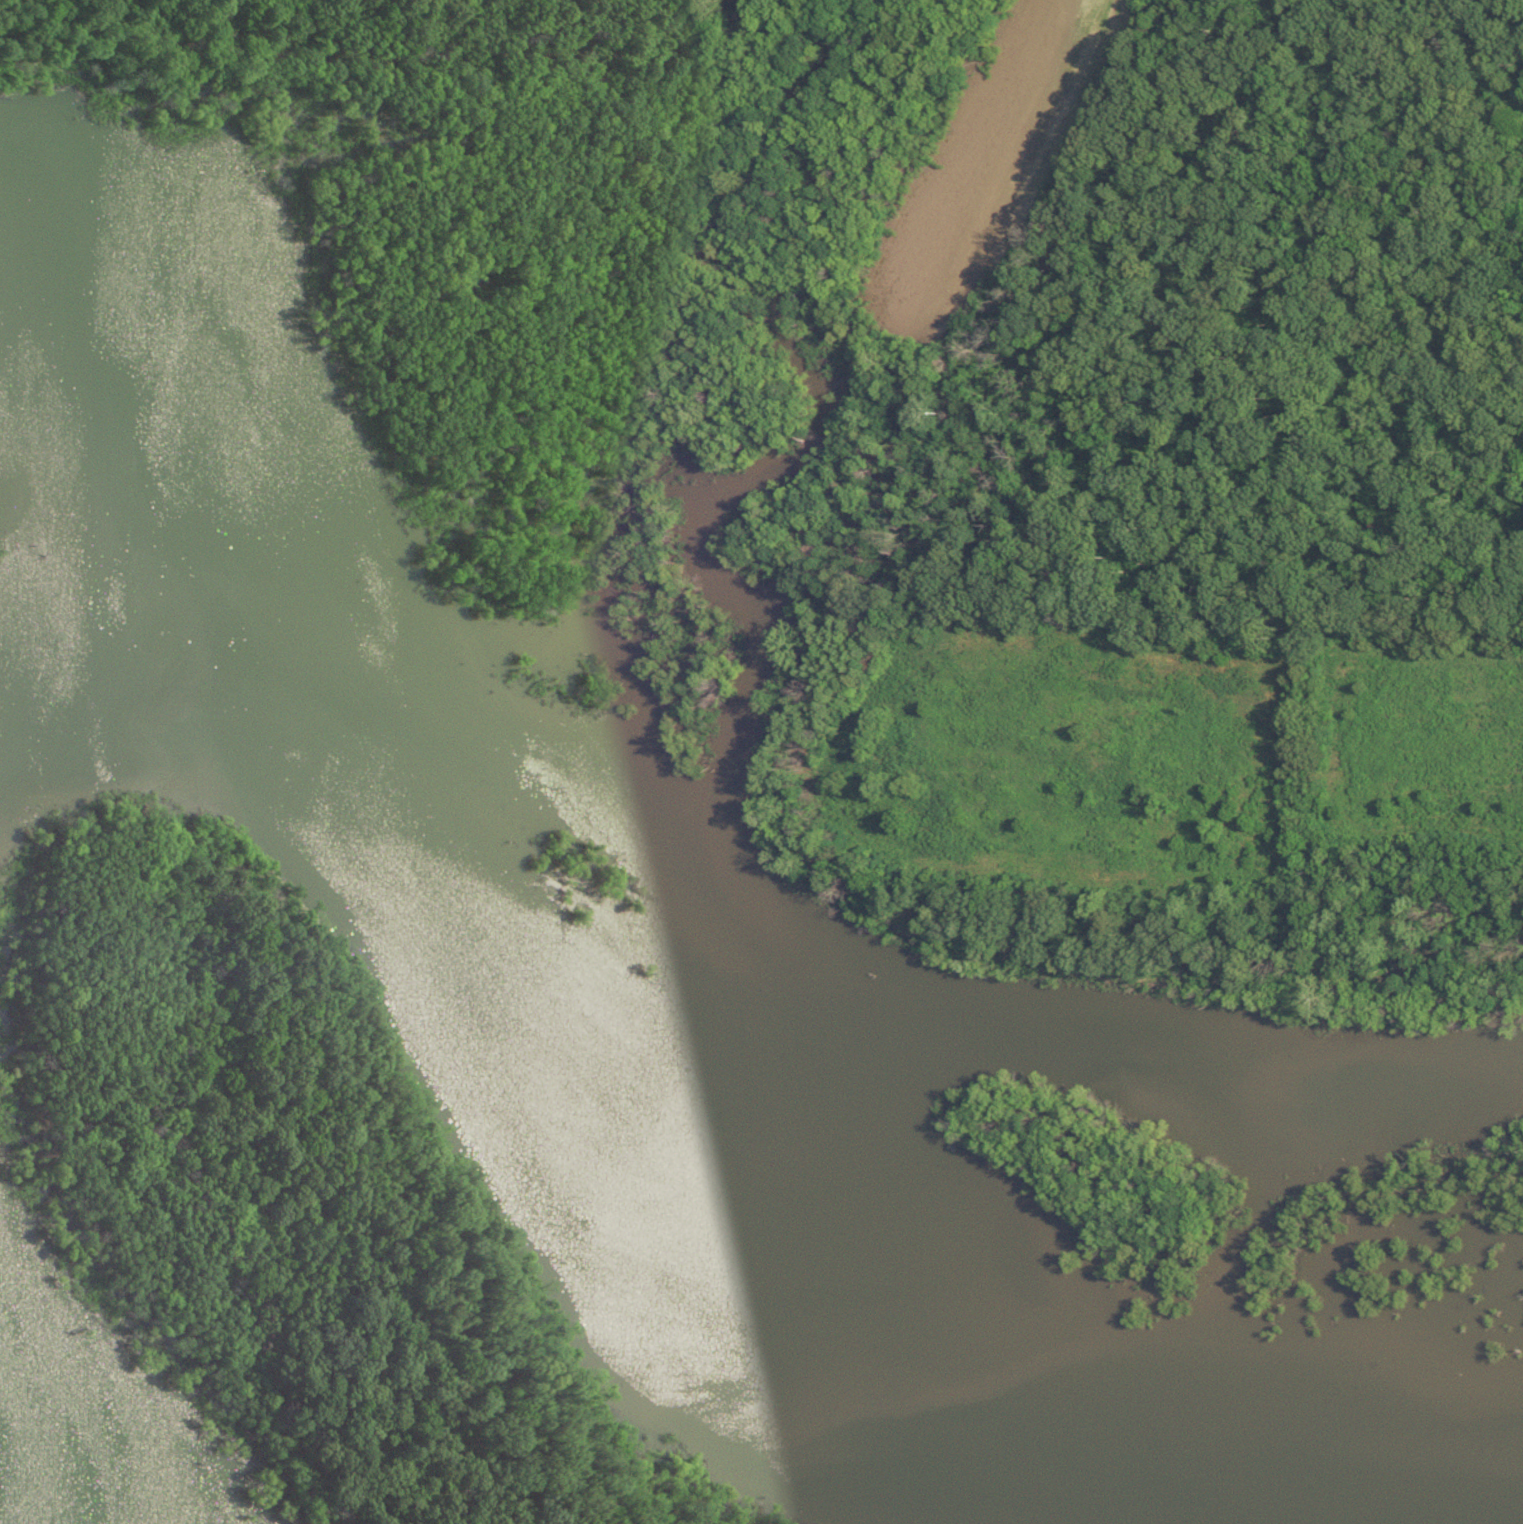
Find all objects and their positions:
river: (750, 914)

